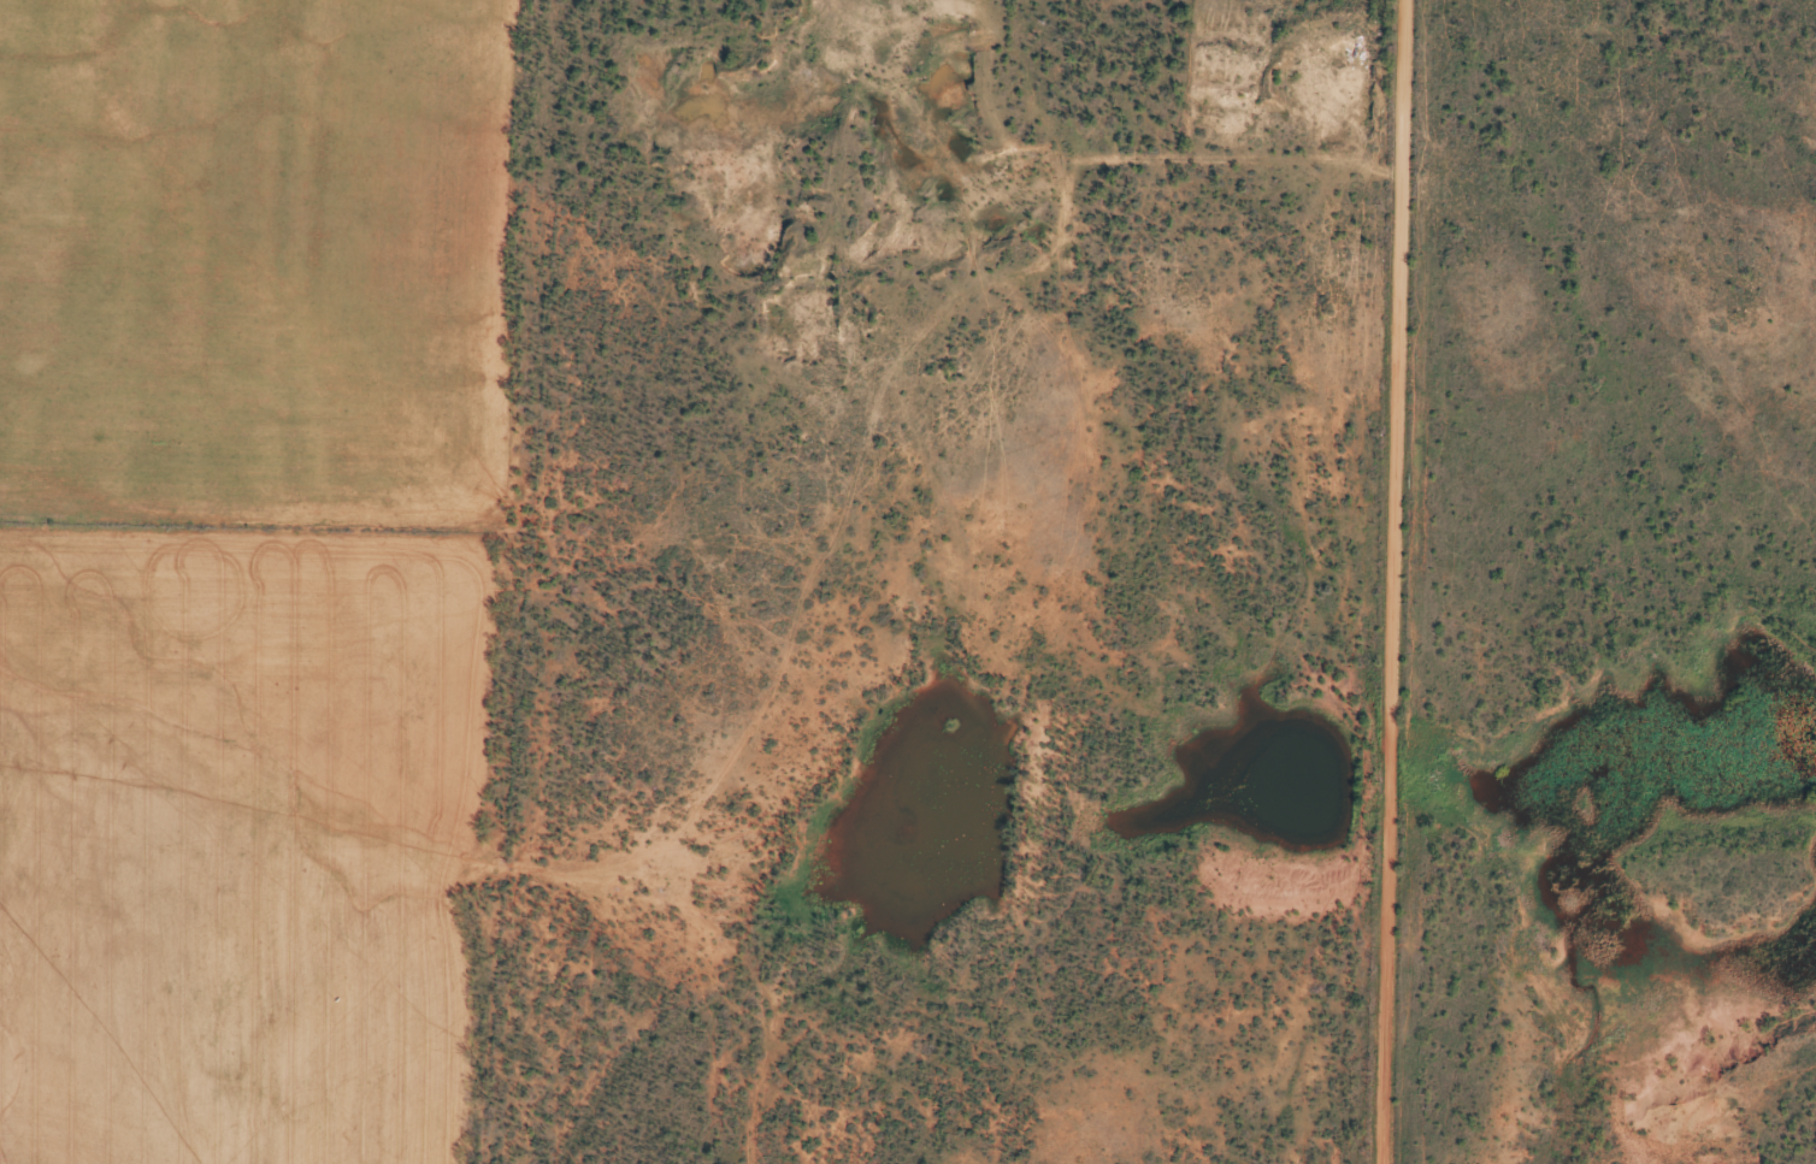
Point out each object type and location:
road: (1399, 581)

